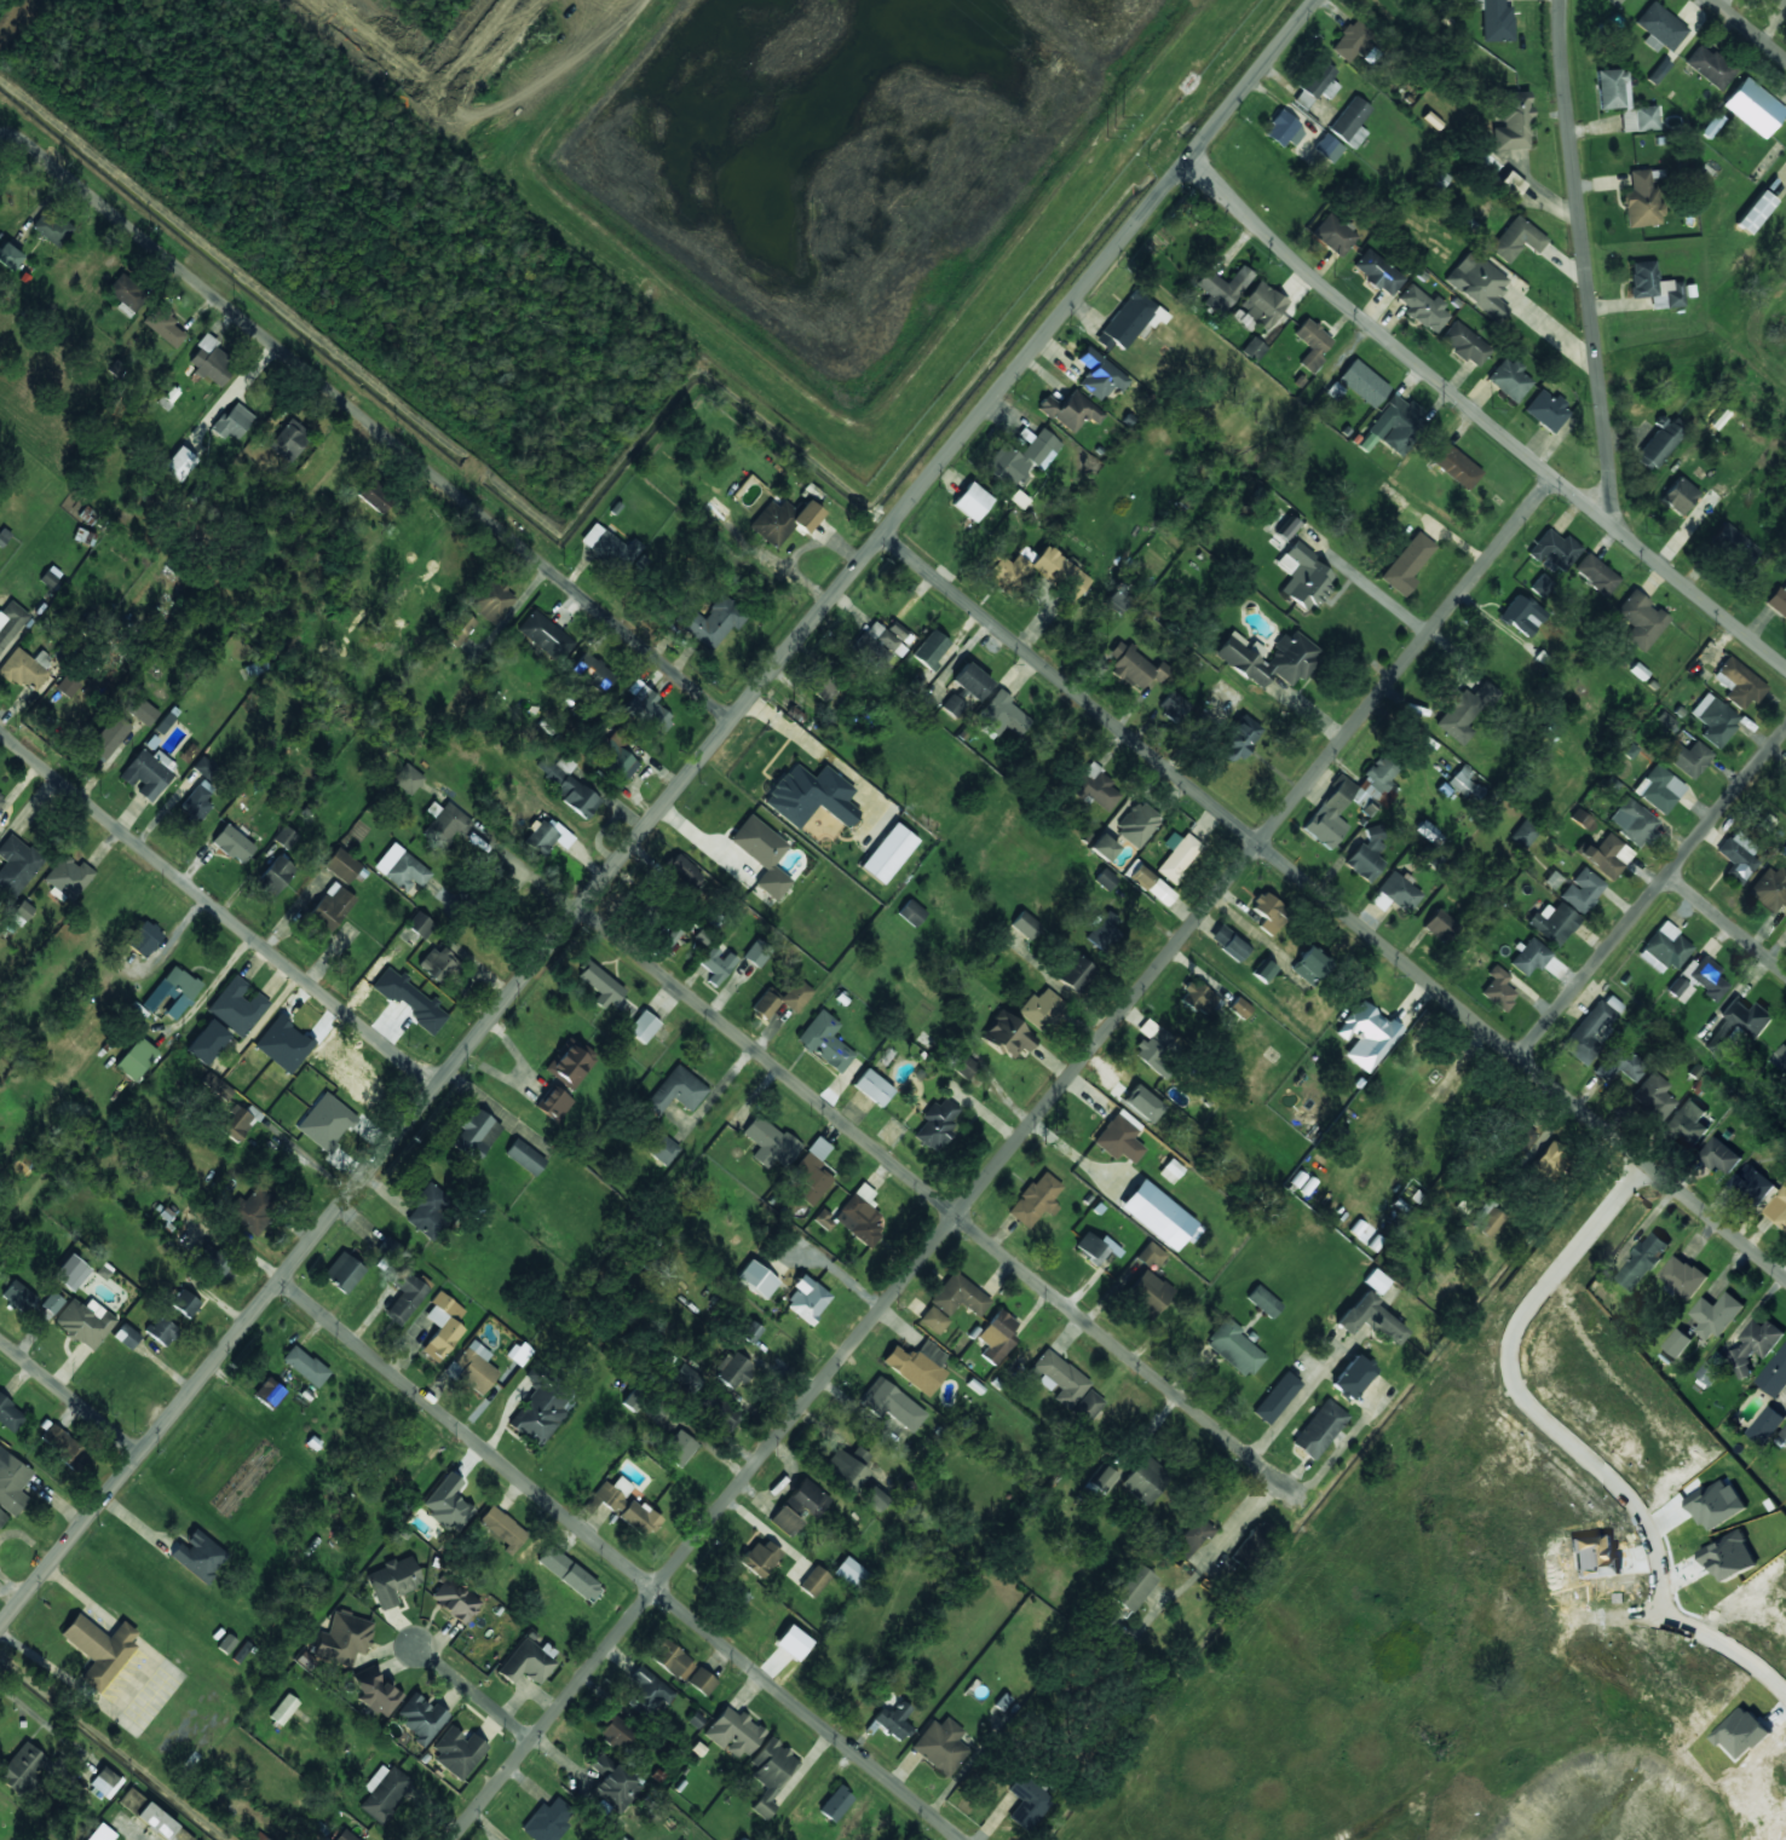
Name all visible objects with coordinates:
building: (1613, 2)
building: (1776, 2)
building: (1496, 21)
building: (1659, 28)
road: (1751, 28)
building: (1350, 40)
building: (1709, 67)
building: (1317, 85)
building: (1753, 106)
building: (1513, 120)
building: (1350, 121)
building: (1283, 129)
road: (5, 135)
building: (1327, 148)
building: (1509, 185)
building: (1641, 201)
building: (1755, 212)
building: (50, 226)
building: (1332, 235)
building: (1516, 238)
building: (8, 256)
road: (1585, 263)
building: (1377, 272)
building: (1479, 284)
building: (1654, 285)
building: (1212, 290)
building: (126, 294)
building: (1262, 305)
building: (1423, 308)
building: (1125, 321)
building: (162, 323)
building: (1312, 342)
building: (1464, 344)
building: (1252, 350)
building: (211, 360)
building: (1099, 374)
building: (1509, 379)
building: (1362, 382)
building: (1071, 410)
building: (1545, 410)
road: (1483, 414)
building: (231, 422)
road: (370, 426)
building: (1394, 426)
building: (289, 440)
building: (1660, 442)
building: (1022, 455)
building: (178, 463)
building: (1454, 466)
building: (374, 494)
building: (1678, 495)
building: (970, 503)
building: (1706, 504)
building: (783, 520)
building: (1287, 529)
building: (4, 536)
building: (1733, 542)
building: (610, 547)
building: (1554, 550)
building: (1407, 564)
building: (1035, 570)
building: (1596, 573)
building: (1303, 577)
building: (1542, 586)
building: (490, 600)
building: (1116, 600)
building: (1778, 600)
building: (1520, 613)
building: (1640, 619)
building: (10, 621)
building: (711, 621)
building: (457, 629)
building: (545, 635)
building: (931, 648)
building: (1292, 656)
building: (1131, 665)
building: (25, 669)
building: (593, 671)
building: (970, 681)
building: (1739, 682)
building: (820, 685)
building: (67, 686)
building: (1227, 693)
building: (952, 705)
building: (1171, 705)
building: (1463, 709)
building: (142, 710)
building: (647, 711)
building: (1001, 715)
building: (1715, 719)
building: (109, 737)
building: (1238, 739)
building: (1687, 757)
building: (615, 760)
building: (204, 767)
building: (555, 769)
building: (1785, 769)
building: (148, 773)
building: (407, 778)
building: (1465, 784)
building: (1095, 788)
building: (1659, 789)
building: (810, 795)
building: (576, 796)
building: (1, 798)
building: (1350, 801)
building: (196, 802)
road: (656, 812)
building: (1632, 821)
building: (1136, 824)
building: (445, 825)
building: (1523, 834)
building: (545, 836)
building: (286, 837)
building: (232, 843)
building: (1102, 847)
building: (887, 853)
building: (762, 854)
building: (1177, 855)
building: (1604, 855)
building: (1366, 856)
building: (1738, 856)
building: (16, 865)
building: (344, 866)
building: (401, 867)
building: (684, 870)
building: (275, 875)
building: (68, 877)
building: (1105, 878)
building: (1150, 884)
building: (1769, 888)
building: (1399, 890)
building: (1582, 890)
road: (1652, 892)
road: (1332, 904)
road: (218, 906)
building: (330, 907)
building: (21, 912)
building: (911, 912)
building: (1268, 912)
road: (1727, 919)
building: (1552, 922)
building: (420, 924)
building: (1025, 924)
building: (1439, 925)
building: (1104, 930)
building: (673, 934)
building: (145, 939)
building: (1228, 942)
building: (1665, 948)
building: (756, 952)
building: (1529, 957)
building: (438, 964)
building: (716, 964)
building: (1309, 965)
building: (1262, 970)
building: (1073, 973)
building: (1698, 979)
building: (599, 984)
building: (1497, 988)
building: (172, 991)
building: (795, 994)
building: (1197, 998)
building: (236, 1005)
building: (764, 1005)
building: (1041, 1008)
building: (1239, 1008)
building: (1738, 1023)
building: (643, 1026)
building: (1591, 1028)
building: (1007, 1036)
building: (1366, 1036)
building: (206, 1042)
building: (824, 1042)
building: (1152, 1044)
building: (1781, 1056)
building: (136, 1059)
building: (570, 1062)
building: (1620, 1065)
building: (964, 1066)
building: (872, 1086)
building: (676, 1091)
building: (1653, 1097)
building: (1142, 1102)
building: (553, 1103)
building: (237, 1121)
building: (324, 1121)
building: (1688, 1121)
building: (937, 1123)
building: (476, 1134)
building: (1523, 1136)
building: (1119, 1137)
building: (768, 1142)
building: (662, 1149)
building: (1719, 1155)
building: (524, 1157)
road: (1002, 1157)
building: (1549, 1160)
building: (1170, 1171)
building: (811, 1172)
building: (1752, 1183)
building: (1036, 1200)
road: (940, 1202)
building: (1779, 1206)
building: (254, 1209)
building: (428, 1210)
building: (854, 1216)
building: (1487, 1218)
building: (1364, 1234)
building: (387, 1247)
building: (1091, 1247)
building: (1151, 1254)
building: (1643, 1261)
building: (219, 1264)
building: (71, 1271)
building: (342, 1271)
building: (1683, 1276)
building: (756, 1279)
building: (1376, 1280)
building: (1147, 1293)
building: (18, 1294)
building: (958, 1296)
building: (404, 1297)
building: (806, 1299)
building: (1263, 1300)
building: (185, 1303)
building: (1716, 1315)
building: (1370, 1317)
building: (933, 1320)
building: (85, 1322)
building: (442, 1326)
building: (162, 1329)
building: (750, 1332)
building: (126, 1336)
building: (997, 1337)
building: (1678, 1342)
building: (1755, 1343)
building: (1233, 1348)
building: (916, 1363)
building: (304, 1366)
building: (472, 1367)
building: (731, 1371)
building: (1709, 1372)
building: (1775, 1373)
building: (684, 1374)
building: (1352, 1377)
building: (1059, 1378)
building: (269, 1392)
road: (69, 1396)
road: (1300, 1396)
building: (1277, 1397)
building: (632, 1400)
building: (891, 1404)
building: (1085, 1407)
building: (713, 1411)
building: (540, 1412)
building: (10, 1414)
building: (1765, 1424)
building: (1319, 1429)
building: (1784, 1430)
road: (1568, 1443)
building: (63, 1446)
road: (1341, 1446)
building: (678, 1448)
building: (846, 1465)
building: (1143, 1478)
building: (1100, 1480)
building: (12, 1482)
building: (874, 1499)
building: (448, 1504)
building: (624, 1505)
building: (799, 1506)
building: (2, 1517)
building: (501, 1528)
building: (1189, 1541)
building: (198, 1555)
building: (760, 1557)
road: (617, 1558)
building: (569, 1573)
building: (849, 1573)
building: (392, 1580)
building: (813, 1580)
building: (1125, 1594)
building: (454, 1600)
building: (344, 1637)
building: (793, 1642)
building: (226, 1643)
building: (99, 1649)
building: (670, 1659)
building: (526, 1662)
building: (701, 1680)
building: (376, 1691)
building: (647, 1692)
road: (482, 1698)
building: (283, 1709)
building: (420, 1718)
building: (893, 1720)
building: (615, 1731)
building: (733, 1732)
building: (940, 1746)
building: (457, 1752)
building: (23, 1769)
building: (771, 1773)
building: (63, 1776)
building: (105, 1782)
building: (612, 1783)
building: (382, 1792)
building: (131, 1800)
building: (1027, 1802)
building: (835, 1804)
building: (547, 1819)
building: (160, 1823)
building: (102, 1833)
building: (344, 1835)
building: (259, 1836)
building: (622, 1839)

